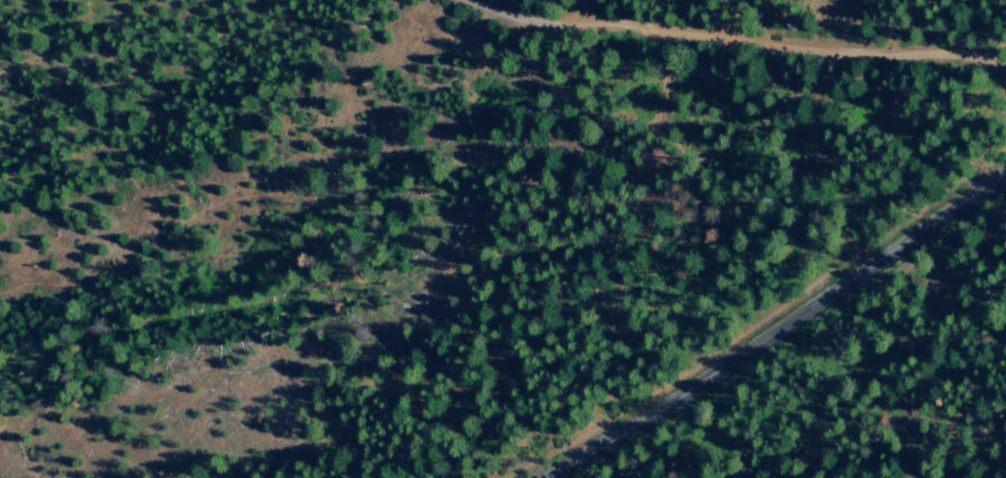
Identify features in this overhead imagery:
road: (735, 36)
road: (777, 330)

